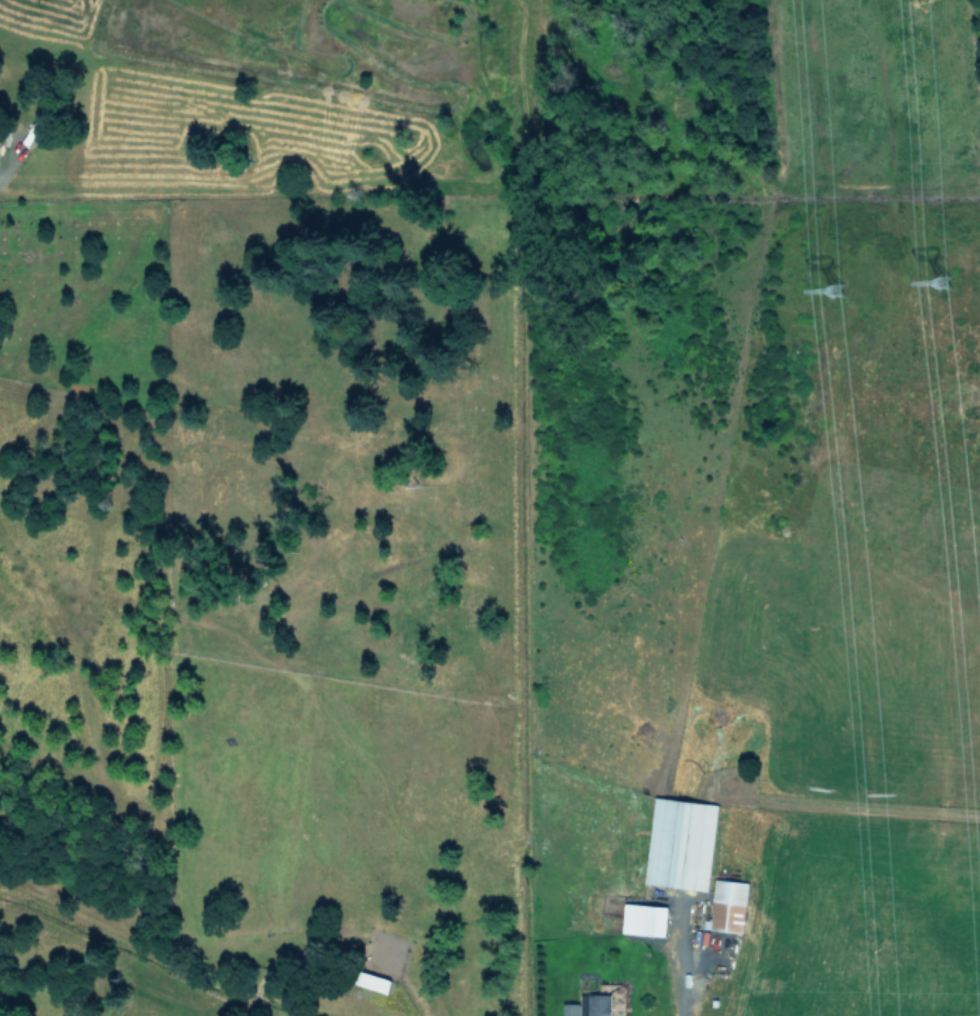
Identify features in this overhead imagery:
road: (8, 162)
power tower: (949, 288)
power tower: (838, 296)
building: (681, 843)
building: (727, 905)
building: (645, 918)
road: (680, 976)
building: (599, 1004)
building: (571, 1009)

